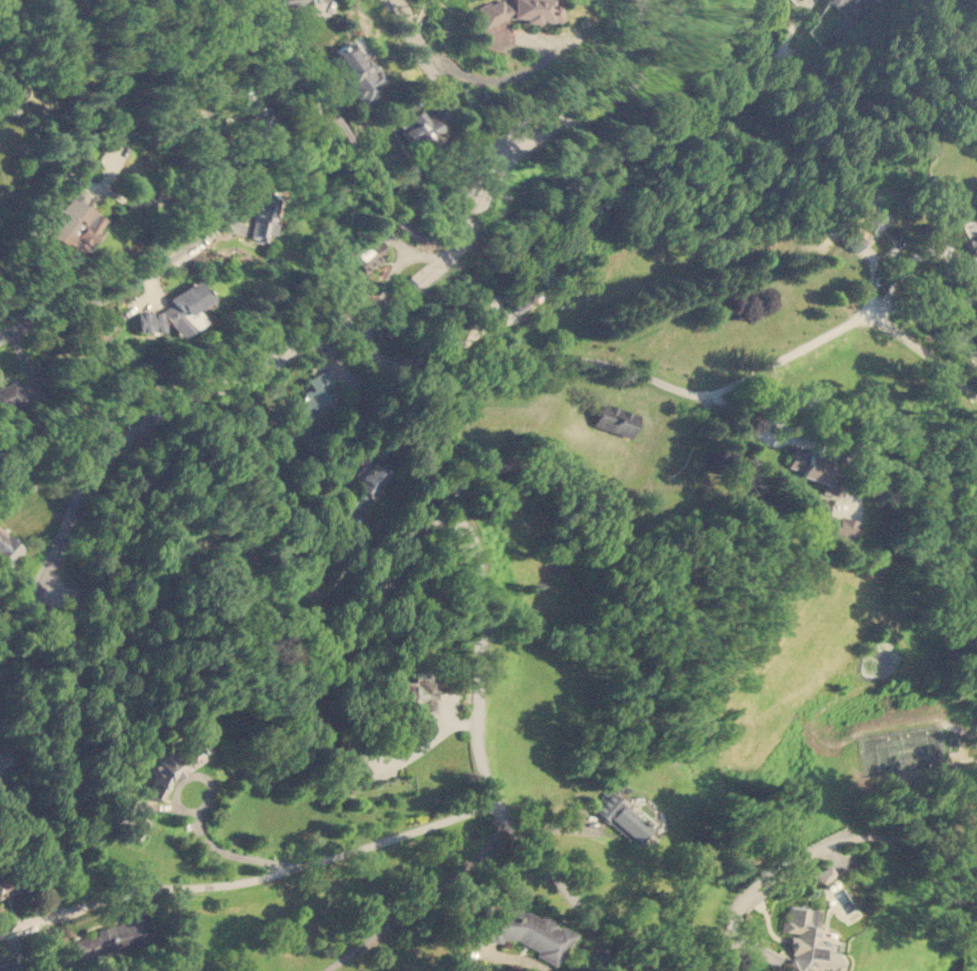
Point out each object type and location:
building: (799, 0)
building: (298, 1)
building: (854, 8)
building: (513, 11)
building: (556, 11)
road: (797, 20)
road: (176, 25)
building: (360, 71)
road: (445, 80)
road: (577, 83)
building: (260, 118)
road: (356, 155)
road: (187, 188)
building: (262, 217)
building: (868, 223)
building: (73, 224)
building: (969, 239)
road: (194, 247)
building: (368, 255)
road: (966, 274)
road: (269, 295)
building: (515, 299)
building: (183, 307)
road: (347, 325)
road: (474, 338)
road: (379, 343)
road: (788, 355)
road: (665, 383)
building: (9, 394)
building: (305, 402)
building: (614, 419)
building: (811, 466)
road: (53, 475)
building: (365, 485)
building: (842, 525)
road: (415, 536)
building: (9, 547)
building: (414, 693)
road: (842, 739)
building: (5, 761)
building: (174, 767)
building: (620, 817)
building: (133, 825)
road: (816, 851)
road: (247, 880)
building: (6, 885)
building: (834, 889)
road: (423, 900)
building: (119, 933)
building: (808, 942)

